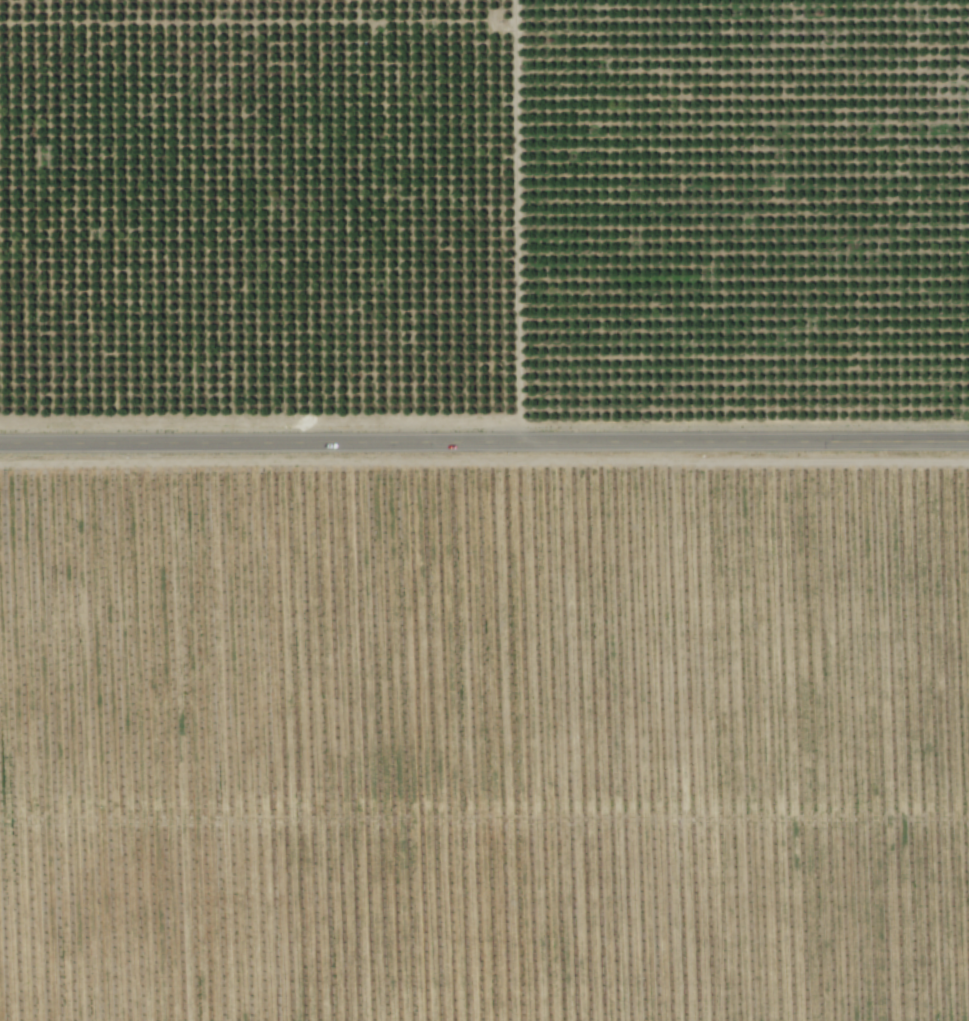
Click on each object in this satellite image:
road: (484, 441)

